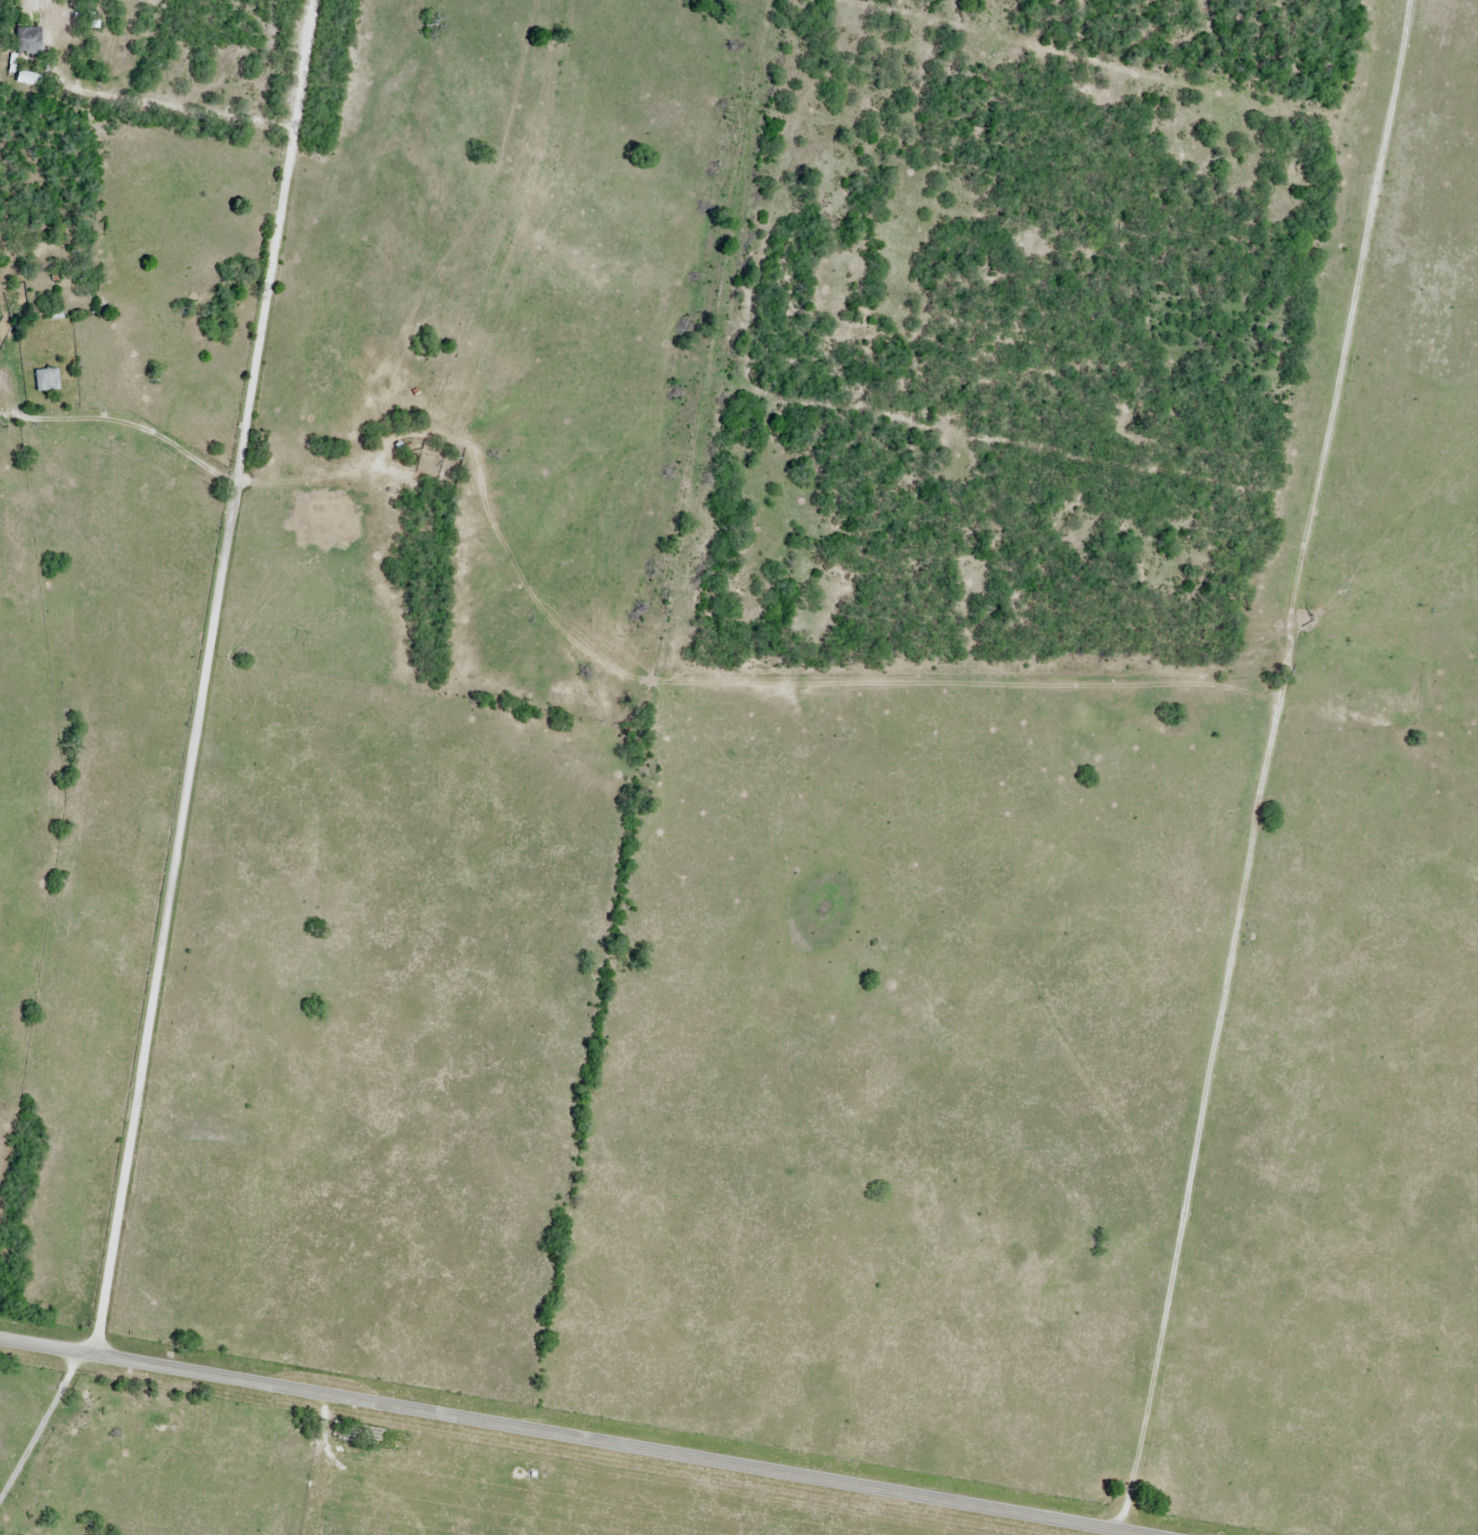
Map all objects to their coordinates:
building: (28, 41)
road: (129, 110)
building: (46, 381)
road: (203, 677)
road: (40, 1425)
road: (573, 1436)

